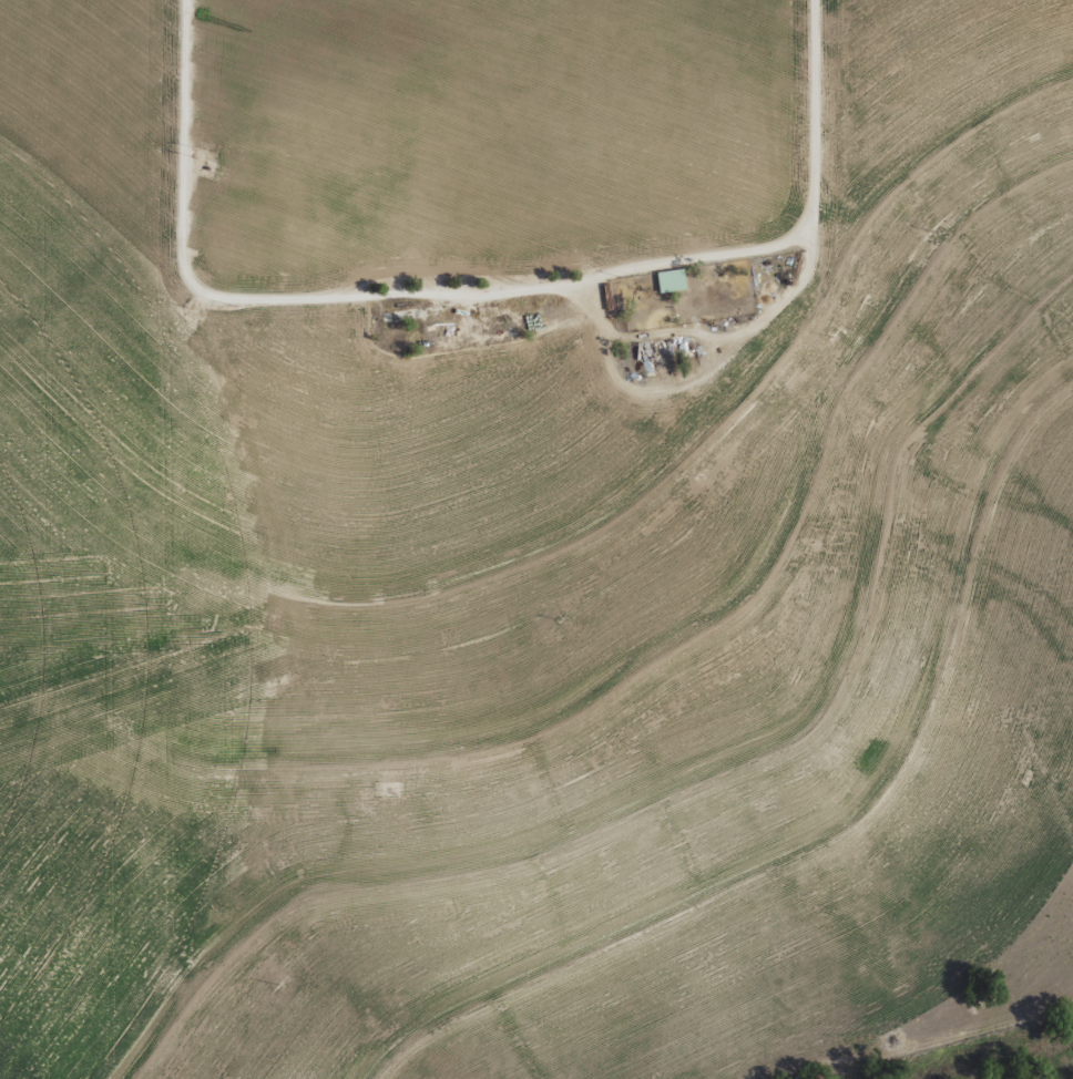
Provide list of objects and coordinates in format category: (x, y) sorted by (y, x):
building: (672, 280)
road: (745, 537)

